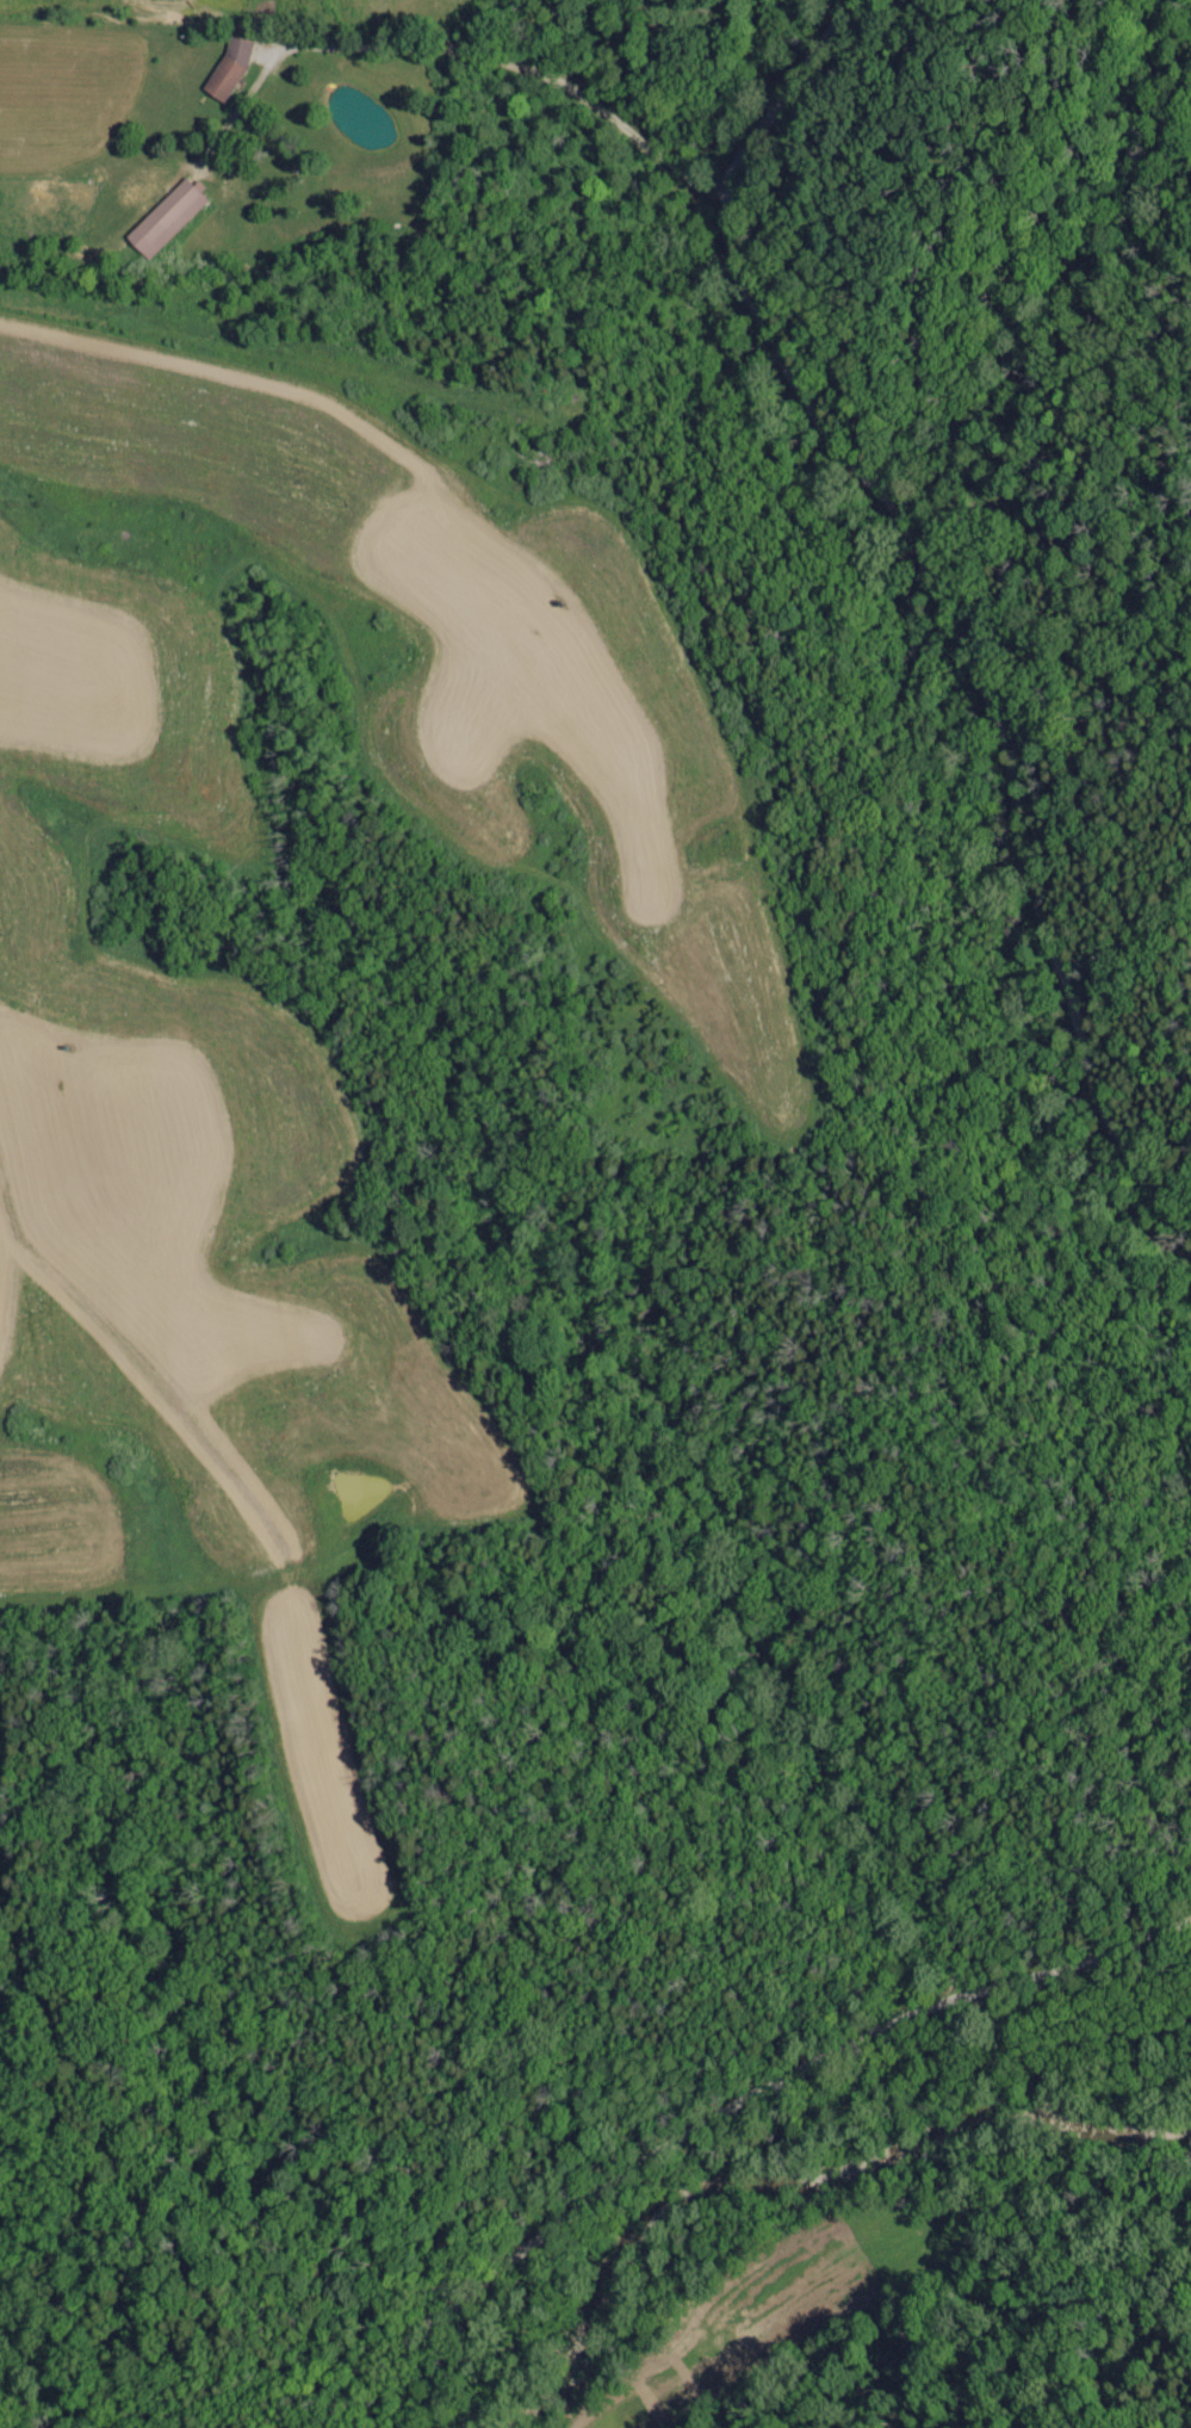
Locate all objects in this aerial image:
building: (234, 69)
building: (170, 219)
road: (973, 555)
road: (709, 2085)

